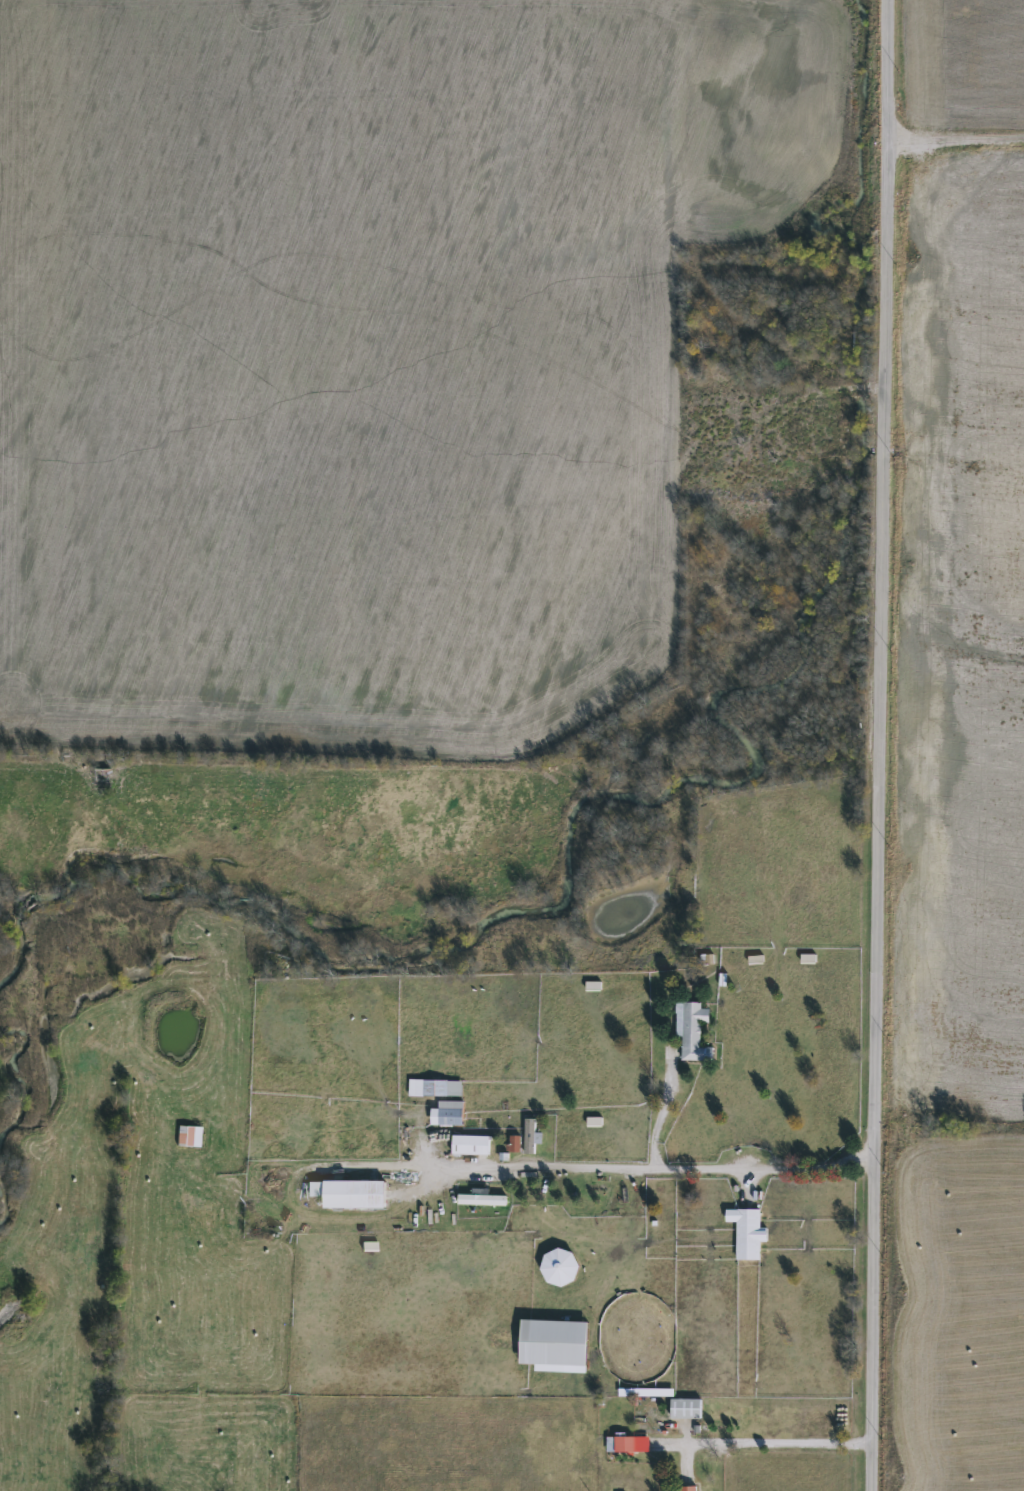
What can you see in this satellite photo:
road: (955, 143)
road: (444, 204)
road: (878, 745)
building: (101, 778)
building: (693, 1031)
building: (435, 1088)
building: (448, 1113)
road: (655, 1123)
building: (189, 1136)
building: (514, 1143)
building: (471, 1145)
road: (572, 1168)
building: (350, 1193)
building: (483, 1200)
building: (747, 1232)
building: (560, 1268)
building: (555, 1345)
building: (686, 1408)
road: (776, 1441)
building: (625, 1444)

